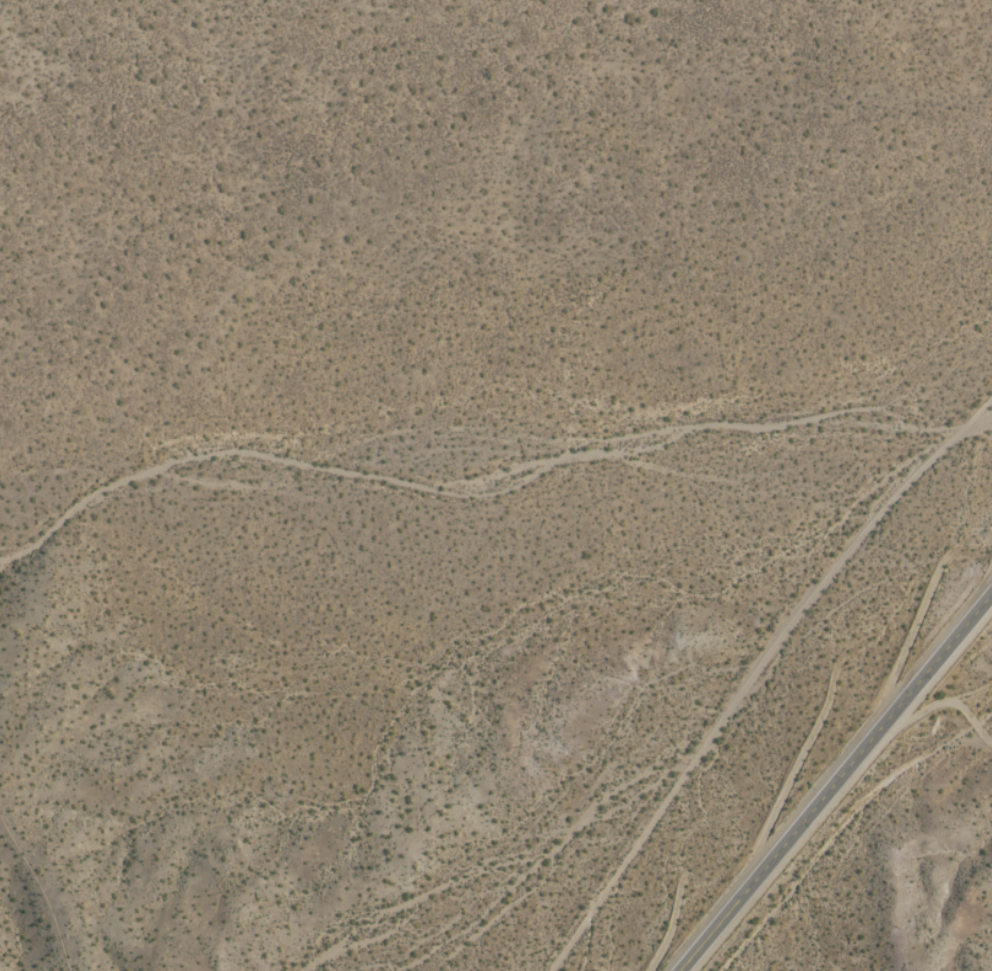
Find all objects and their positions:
road: (837, 783)

